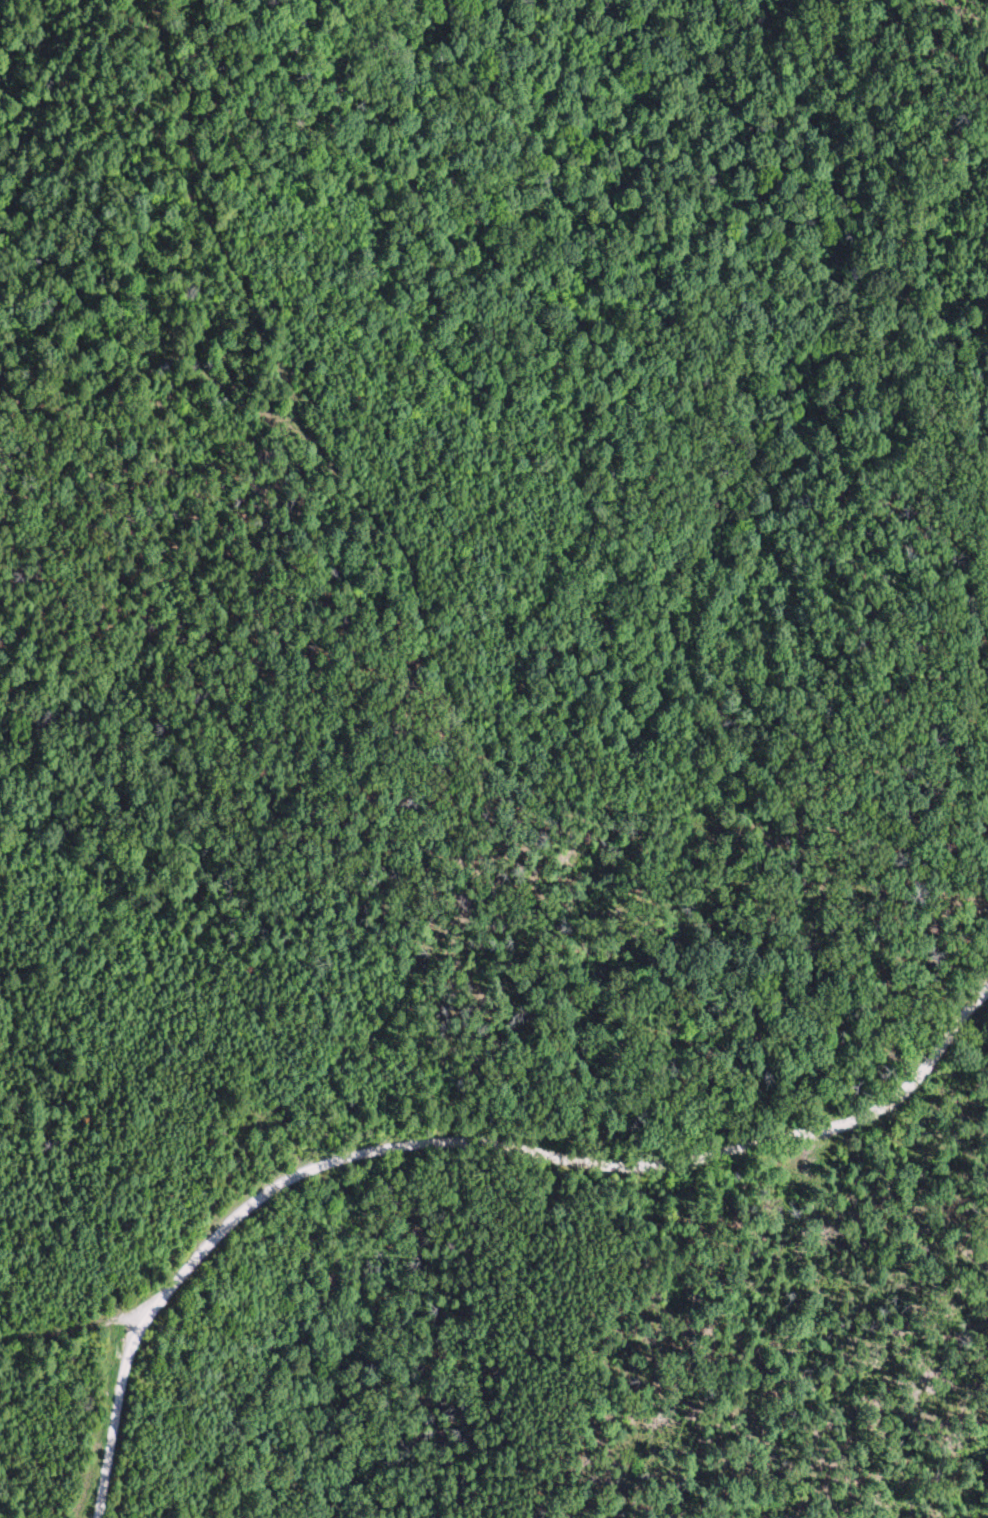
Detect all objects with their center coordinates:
road: (493, 1153)

